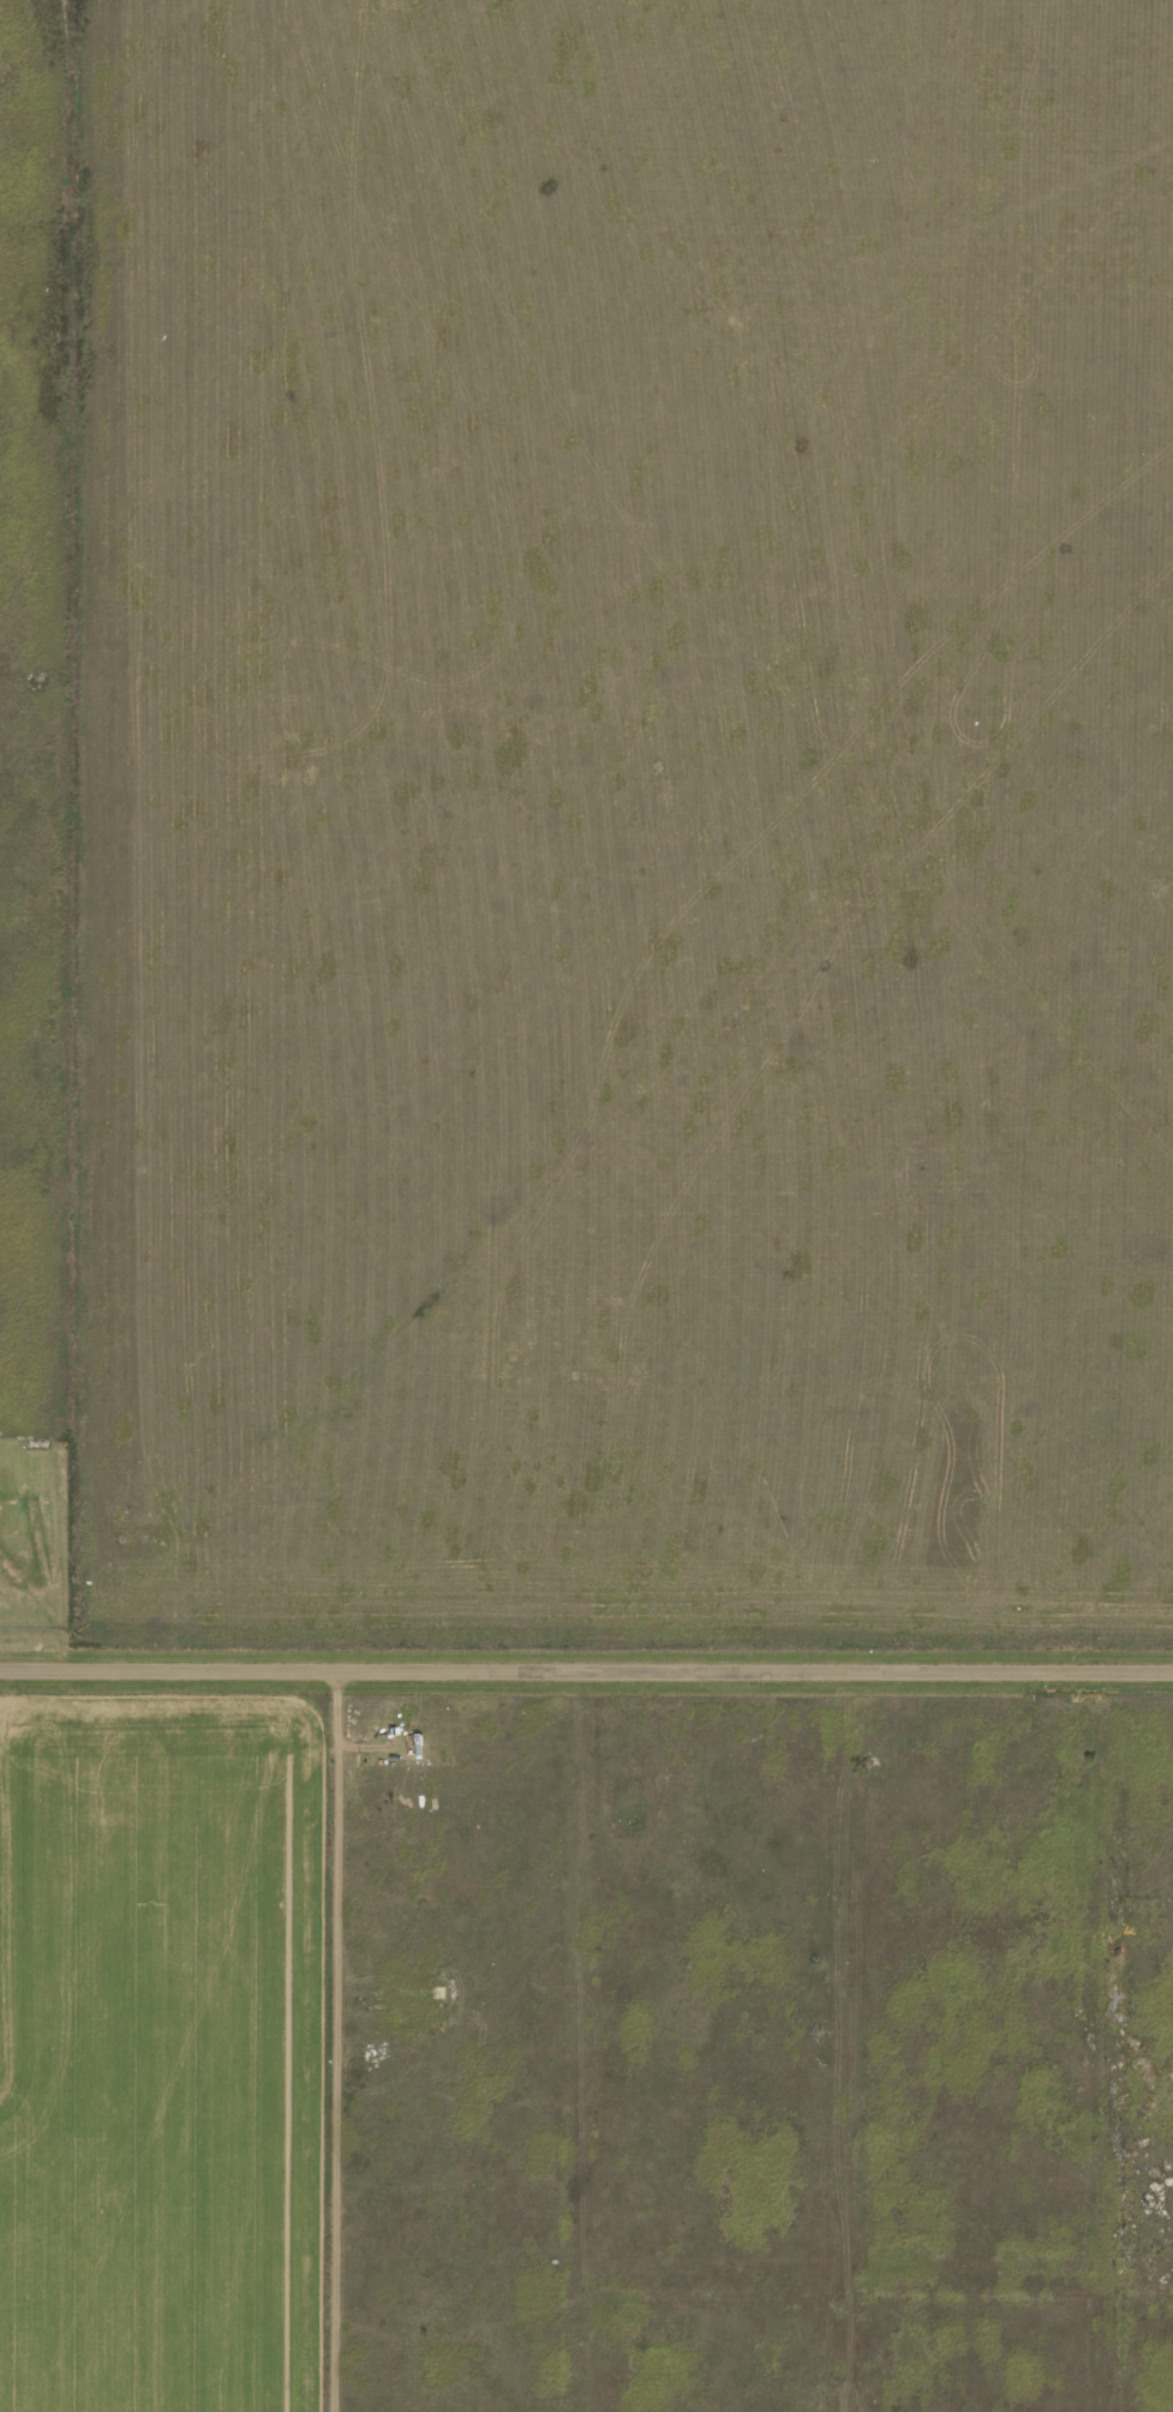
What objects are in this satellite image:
road: (586, 1669)
road: (324, 2040)
road: (582, 2040)
road: (837, 2040)
road: (1109, 2040)
road: (749, 2282)

